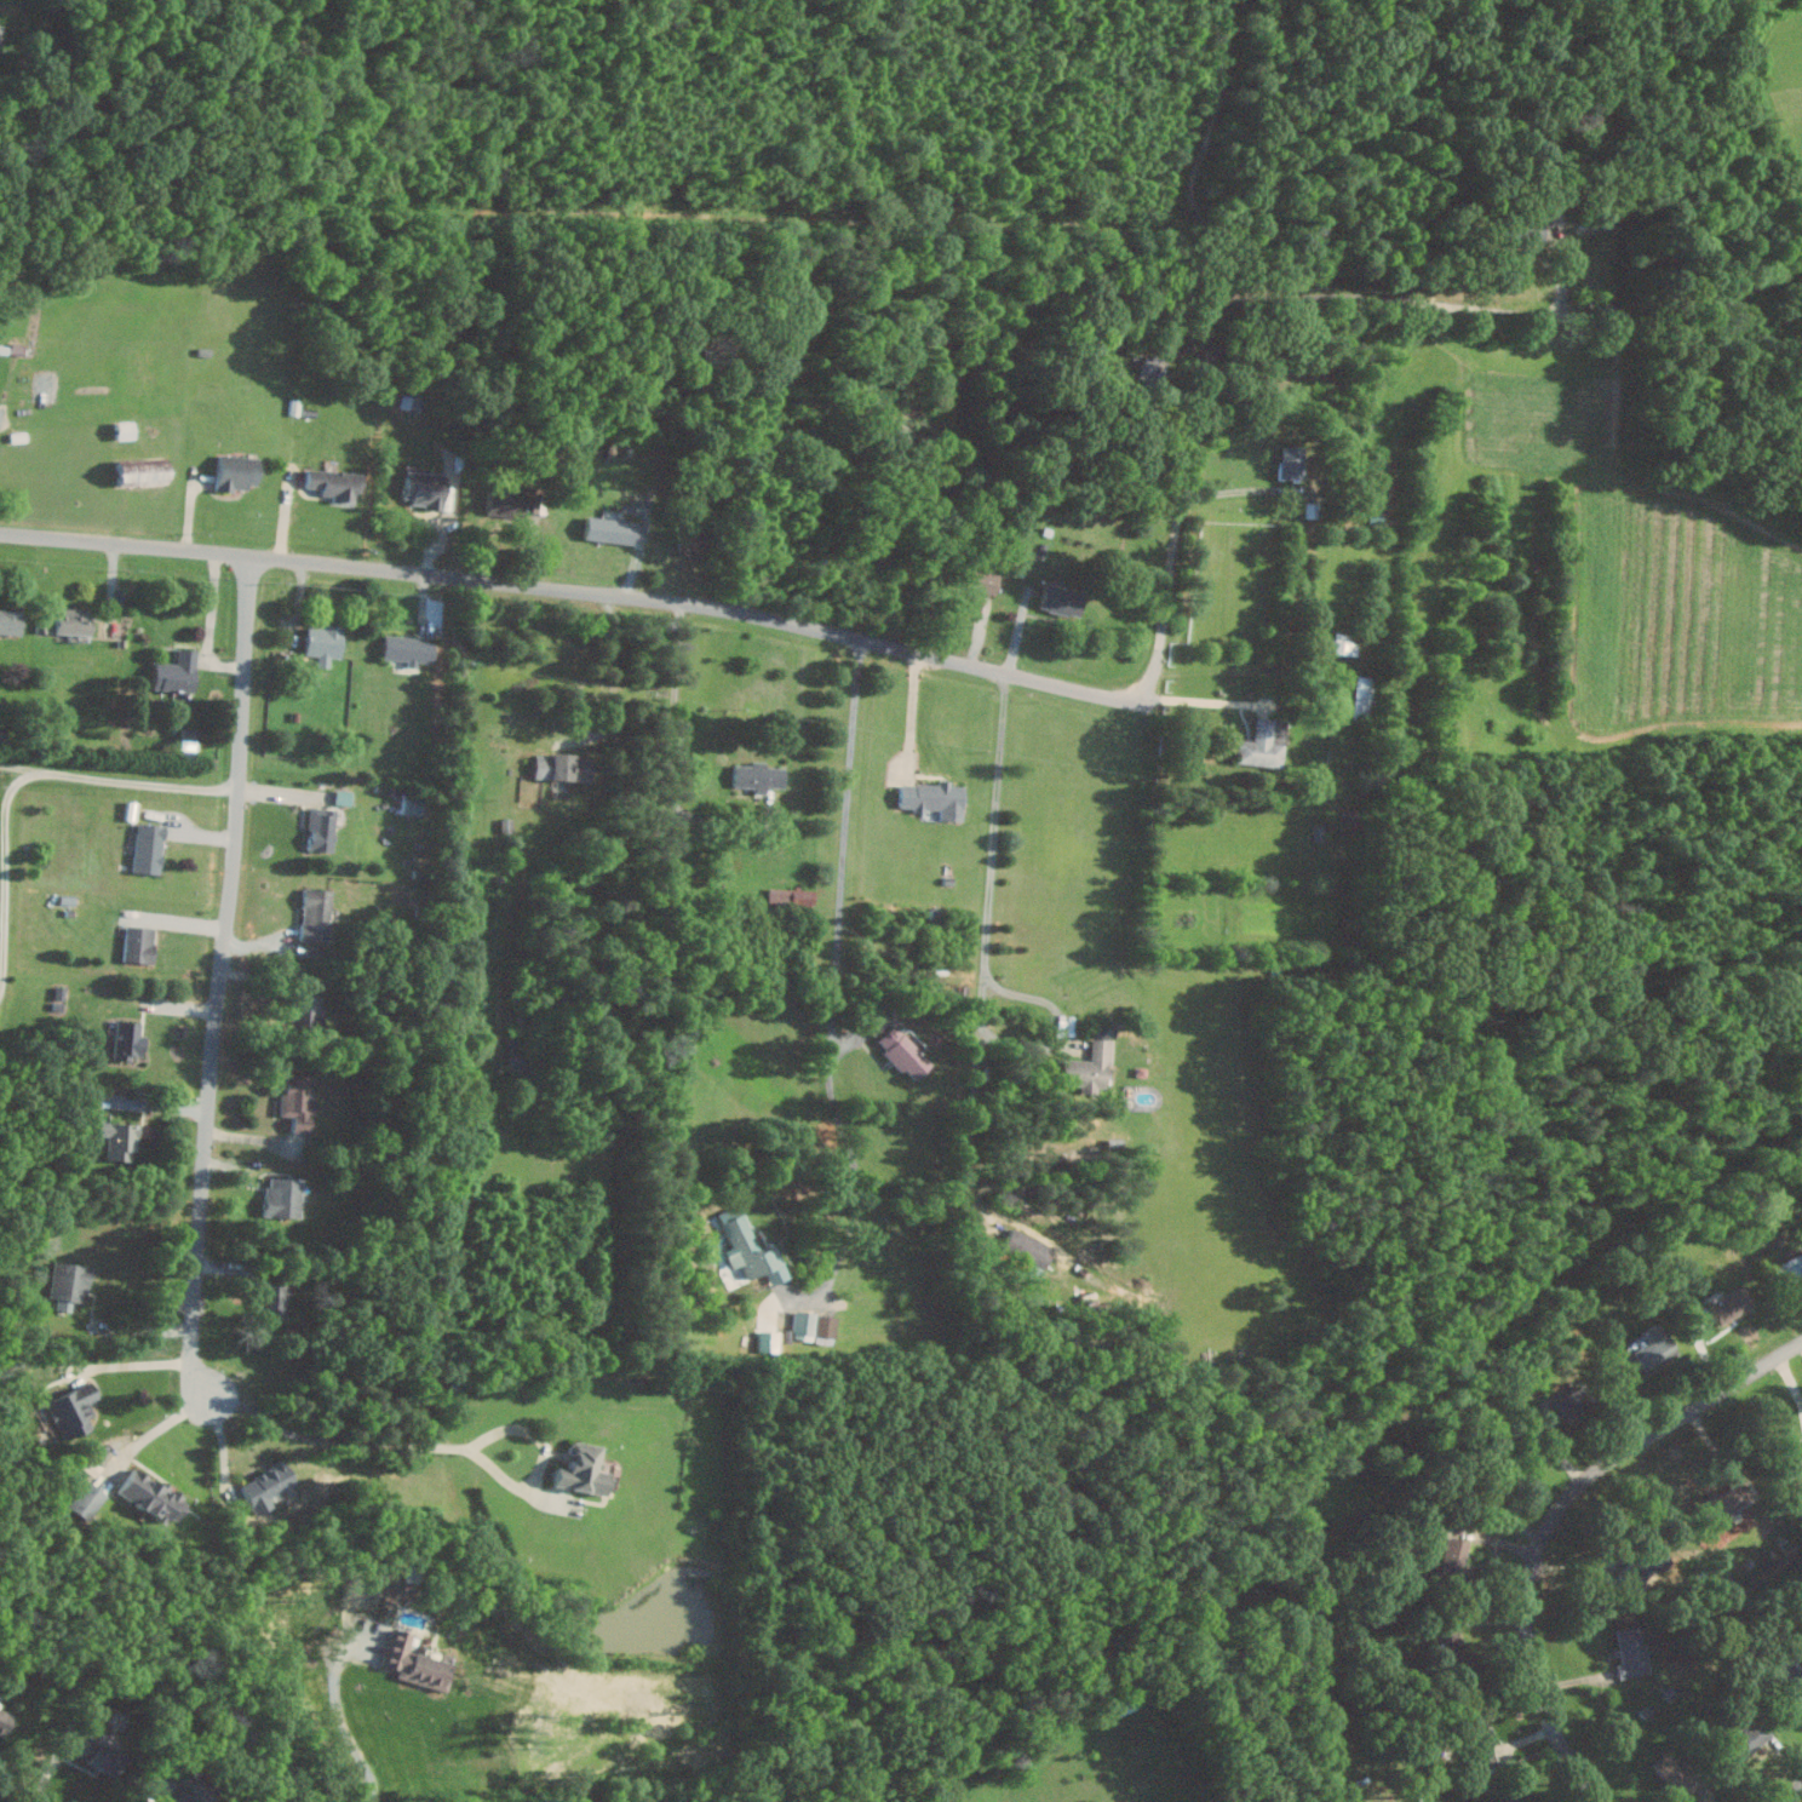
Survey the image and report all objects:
building: (0, 22)
building: (1150, 371)
building: (1293, 463)
building: (145, 471)
building: (240, 472)
building: (337, 484)
building: (427, 489)
building: (516, 504)
building: (613, 530)
building: (986, 581)
building: (1066, 601)
building: (12, 622)
building: (74, 622)
building: (325, 643)
building: (1343, 644)
building: (411, 649)
road: (931, 656)
building: (179, 672)
road: (616, 675)
building: (1364, 698)
road: (1212, 700)
road: (914, 718)
building: (1266, 745)
road: (673, 753)
road: (22, 765)
building: (566, 768)
building: (761, 776)
road: (142, 782)
building: (937, 799)
building: (414, 804)
building: (323, 830)
building: (150, 848)
road: (7, 872)
building: (317, 913)
road: (987, 942)
building: (142, 943)
road: (225, 976)
road: (834, 991)
building: (308, 1010)
road: (1061, 1031)
building: (131, 1039)
building: (906, 1051)
building: (521, 1056)
building: (1092, 1067)
building: (299, 1100)
building: (120, 1140)
building: (286, 1196)
building: (1031, 1247)
building: (754, 1251)
building: (1789, 1268)
building: (70, 1284)
building: (275, 1298)
building: (1729, 1304)
building: (816, 1322)
building: (1654, 1345)
road: (134, 1366)
building: (1569, 1404)
building: (75, 1410)
road: (160, 1435)
road: (438, 1446)
building: (1800, 1450)
building: (269, 1486)
building: (154, 1496)
building: (85, 1500)
road: (1556, 1521)
building: (1451, 1554)
building: (1631, 1652)
building: (412, 1655)
building: (1790, 1670)
building: (4, 1721)
road: (346, 1726)
building: (98, 1754)
road: (52, 1766)
building: (1678, 1775)
building: (194, 1790)
road: (1795, 1796)
building: (1513, 1798)
road: (160, 1801)

